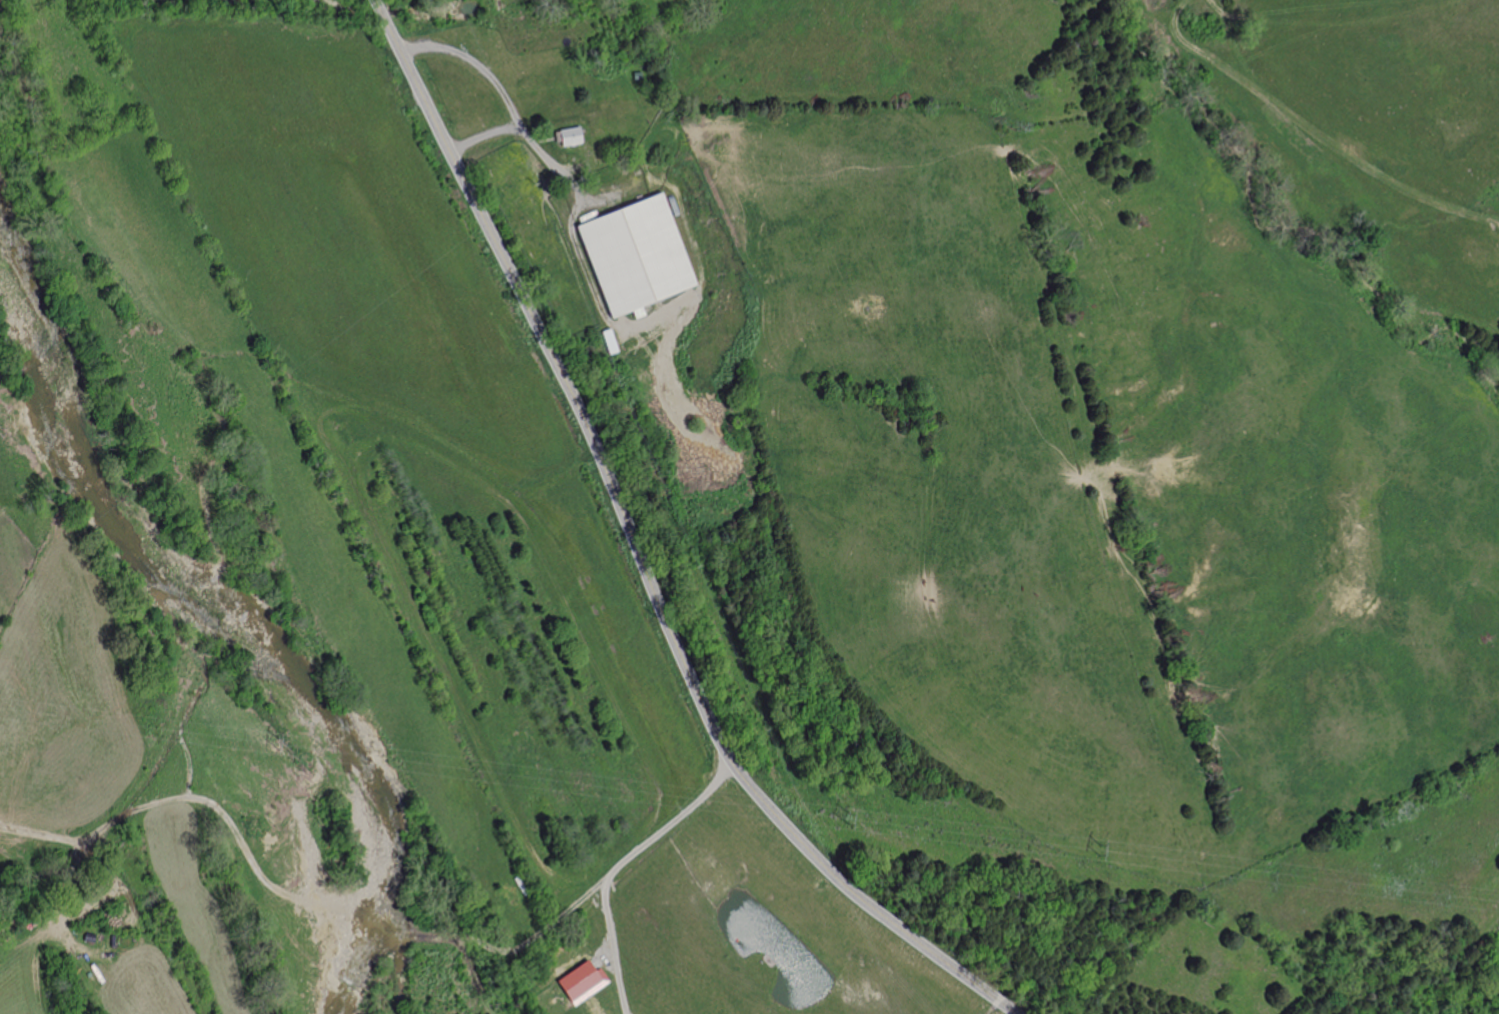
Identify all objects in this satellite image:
road: (377, 2)
road: (381, 10)
road: (1317, 130)
road: (483, 134)
building: (570, 135)
road: (545, 140)
road: (575, 185)
road: (599, 200)
building: (641, 255)
building: (612, 341)
road: (644, 560)
power tower: (283, 737)
road: (198, 797)
power tower: (853, 816)
power tower: (1108, 849)
road: (618, 866)
road: (384, 925)
building: (90, 938)
road: (518, 947)
road: (603, 954)
building: (583, 982)

